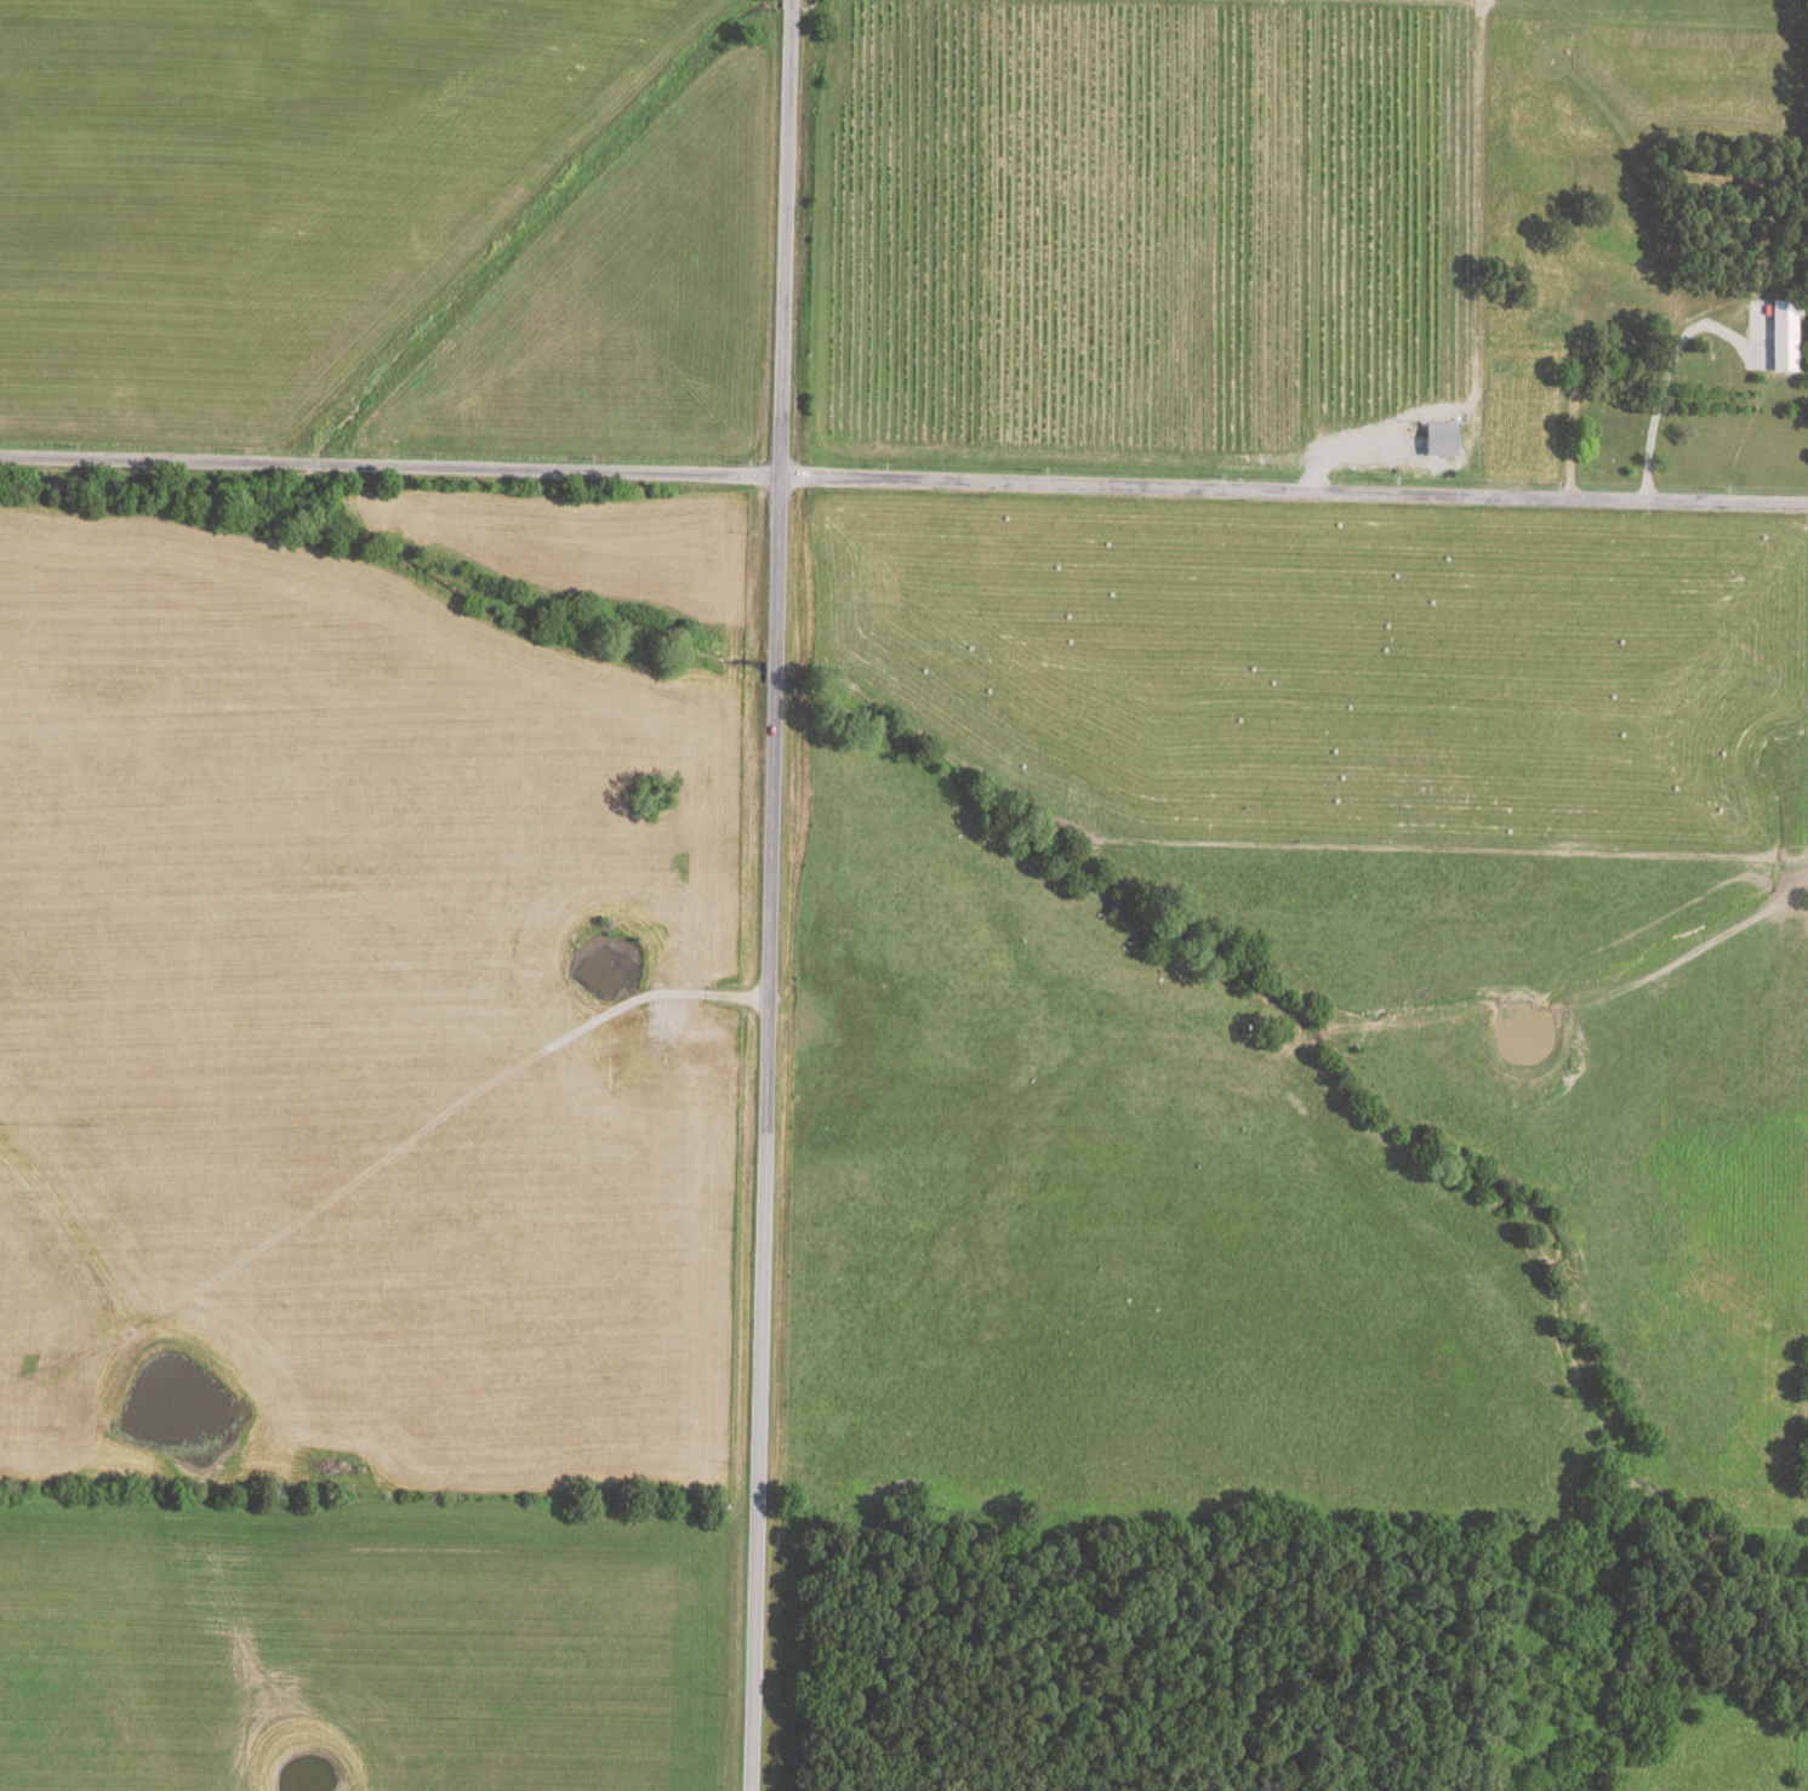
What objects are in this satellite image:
building: (1785, 333)
road: (1659, 393)
building: (1441, 438)
road: (903, 481)
road: (766, 895)

